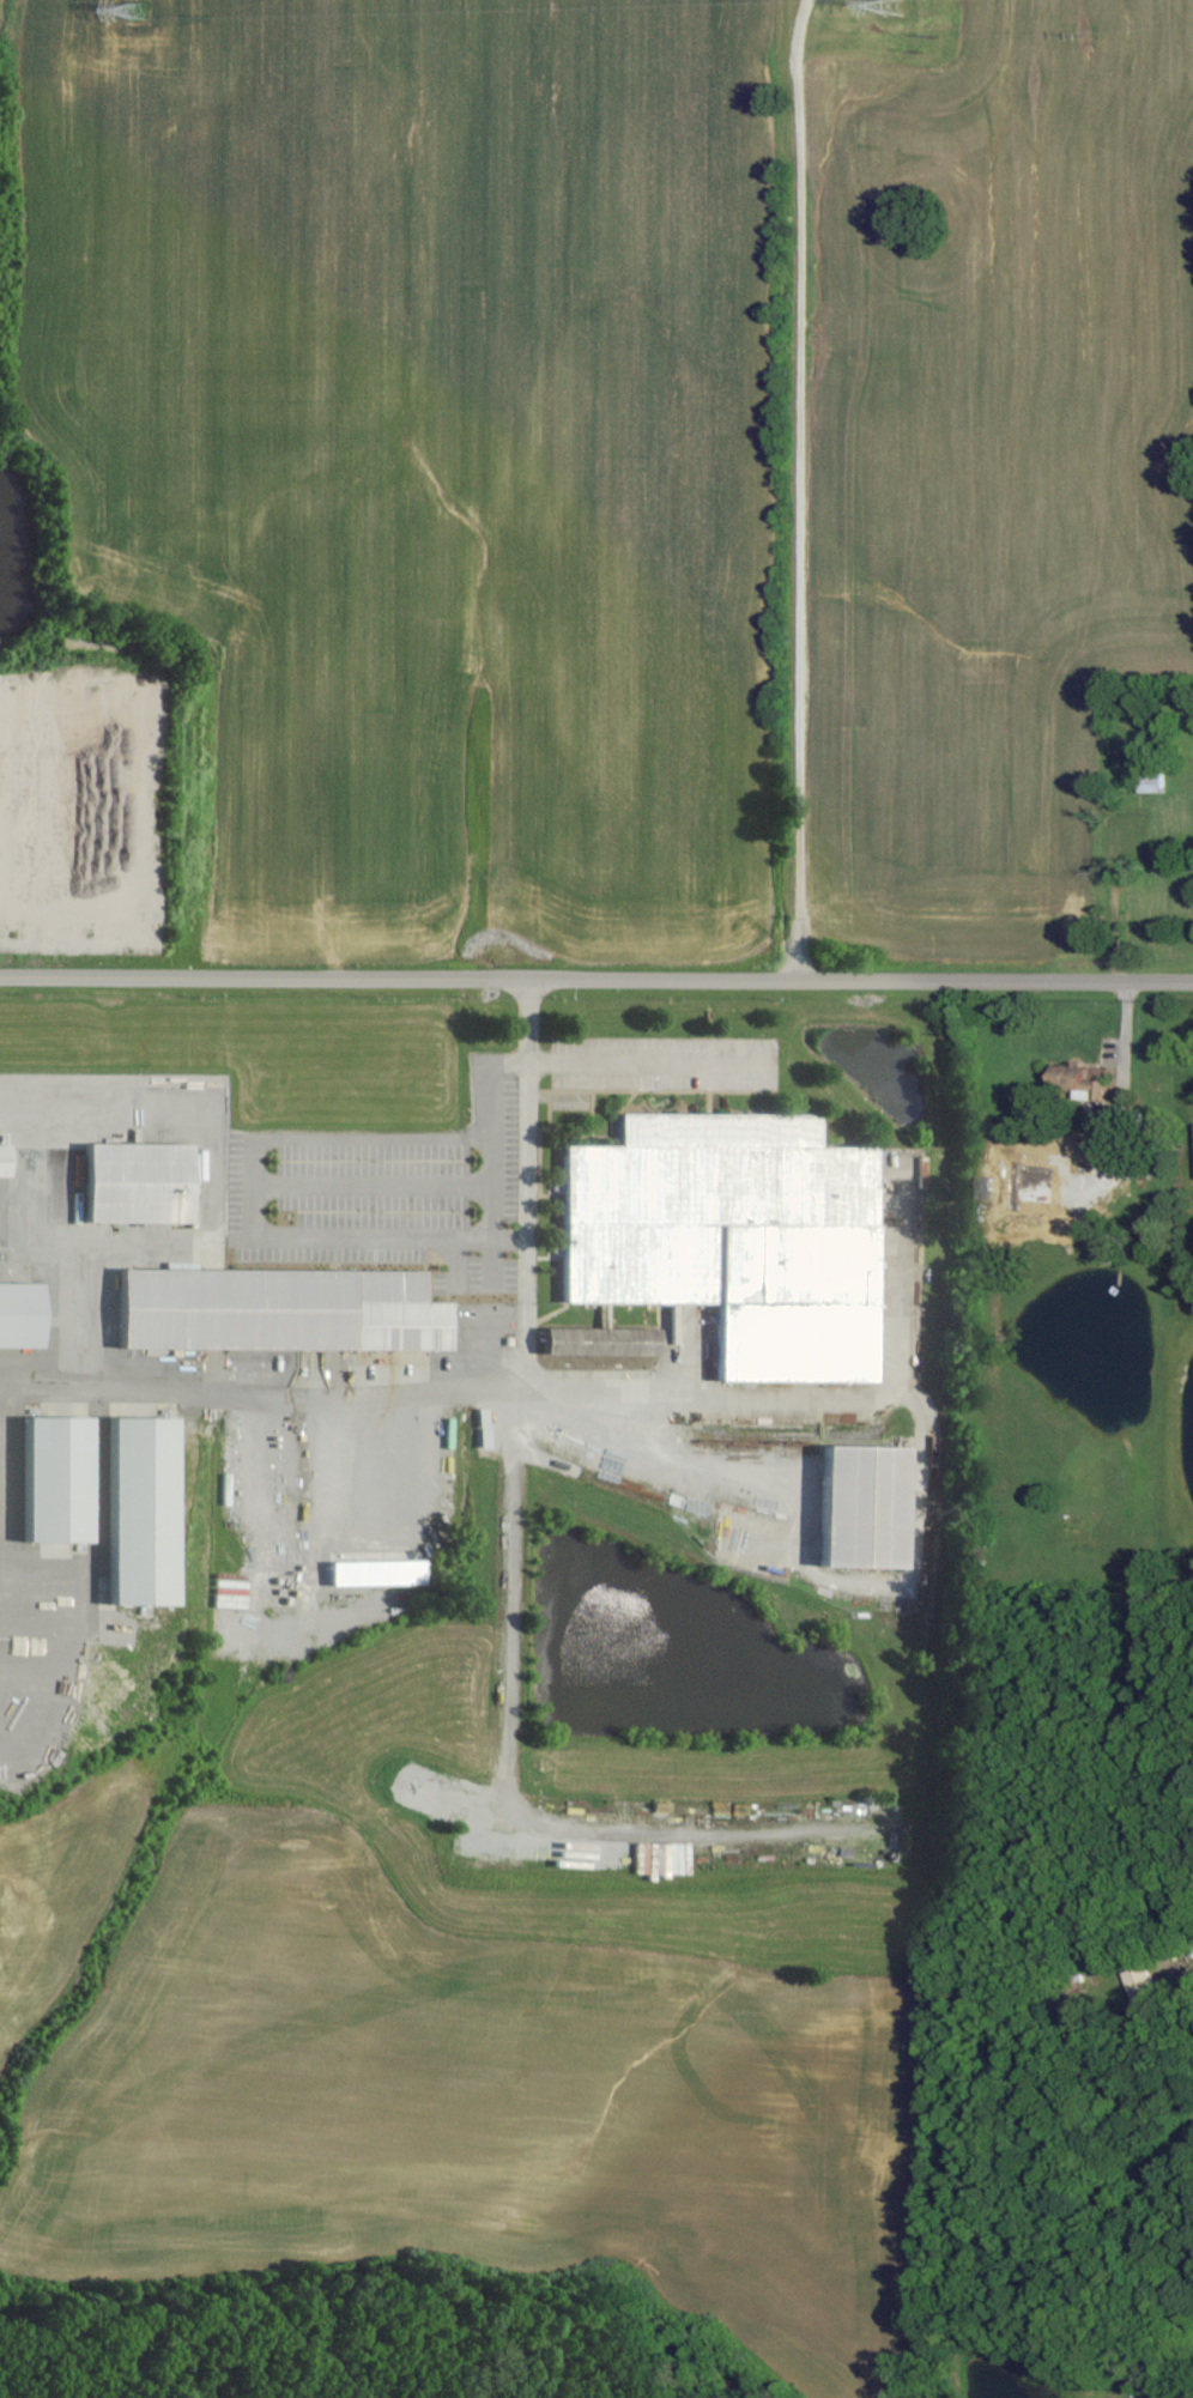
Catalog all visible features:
road: (798, 489)
road: (596, 979)
road: (637, 1060)
building: (1086, 1080)
road: (523, 1108)
building: (5, 1159)
building: (1080, 1159)
building: (135, 1182)
road: (308, 1234)
road: (504, 1237)
building: (729, 1237)
building: (278, 1310)
building: (19, 1314)
building: (598, 1342)
road: (334, 1397)
road: (694, 1411)
building: (53, 1479)
building: (860, 1507)
building: (139, 1512)
building: (374, 1573)
road: (515, 1658)
building: (672, 1858)

